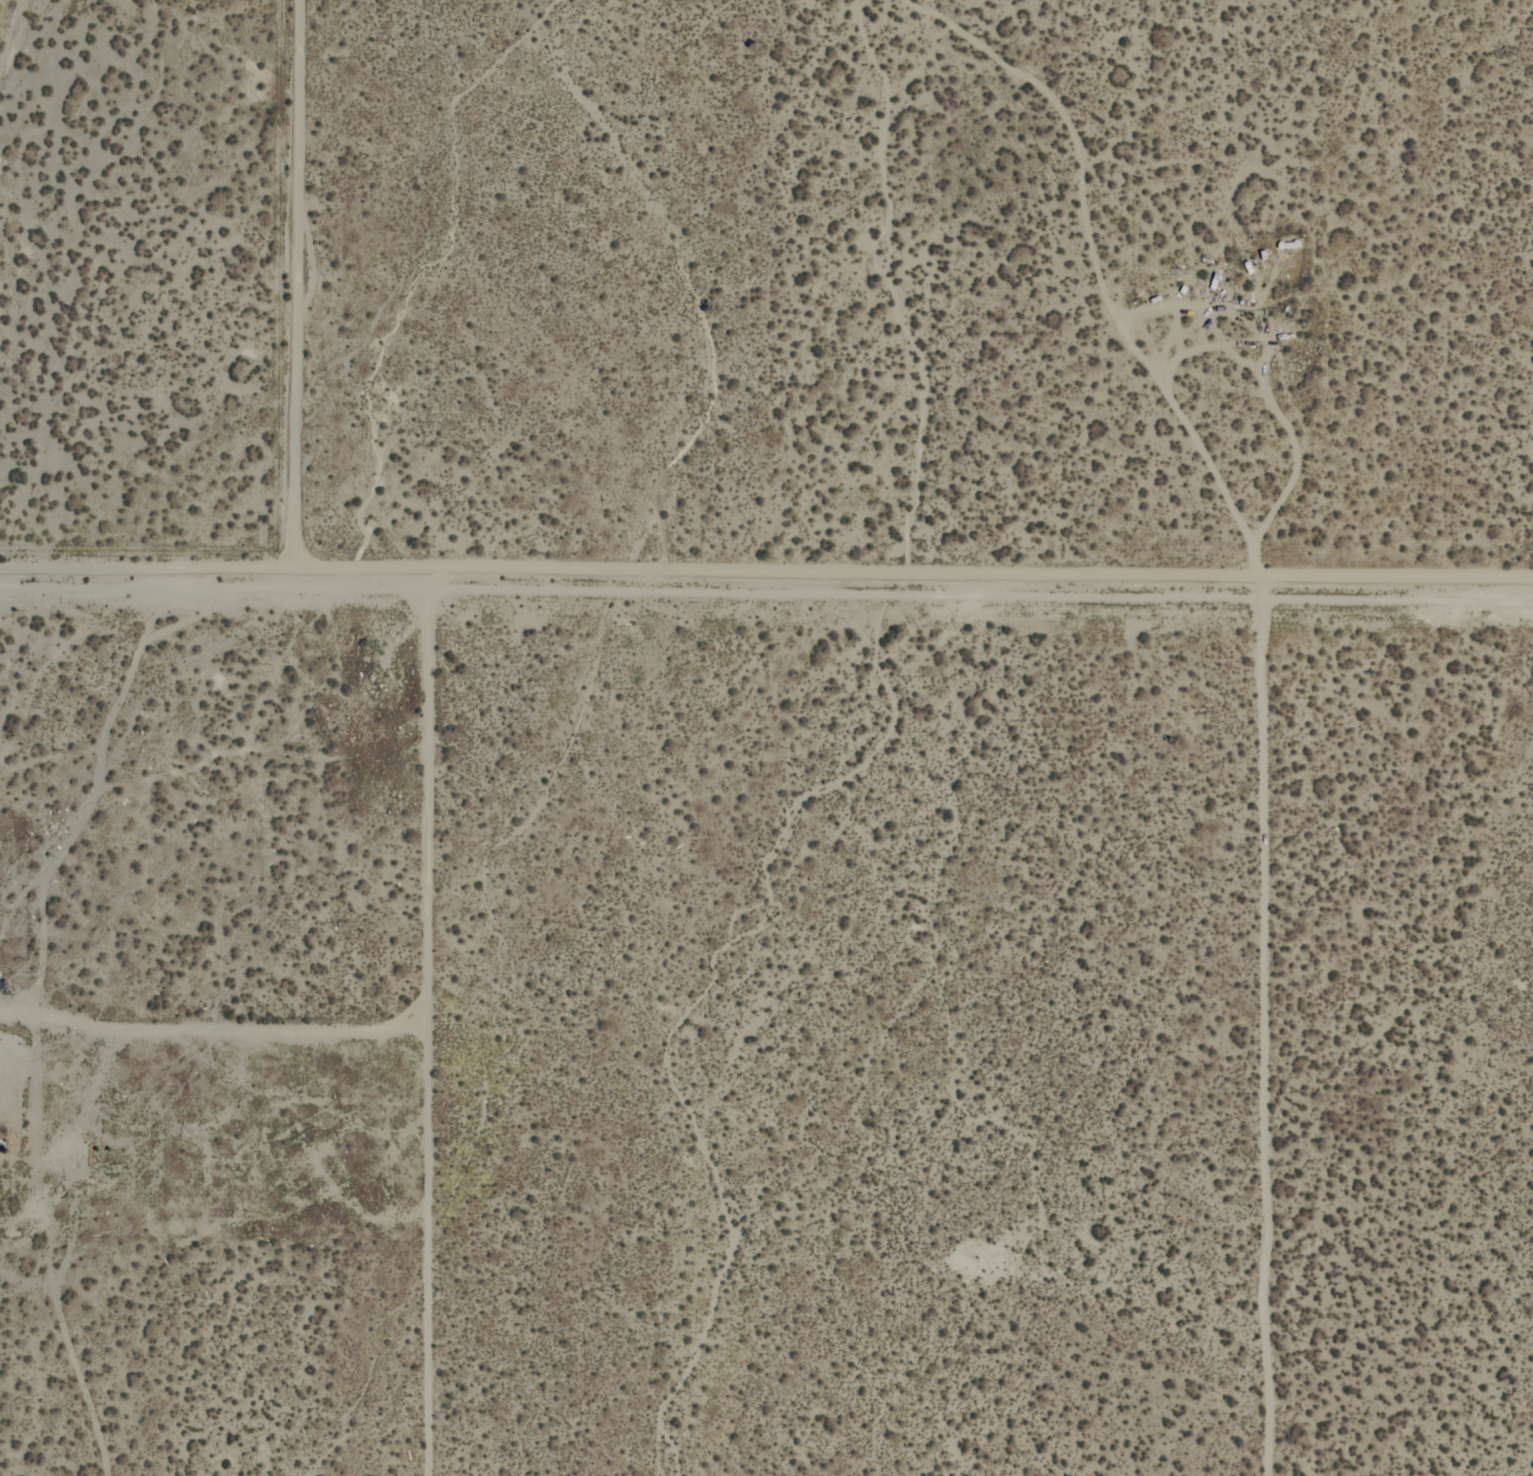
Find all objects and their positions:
road: (286, 291)
road: (1177, 414)
road: (1293, 471)
road: (766, 586)
road: (429, 1029)
road: (1266, 1033)

